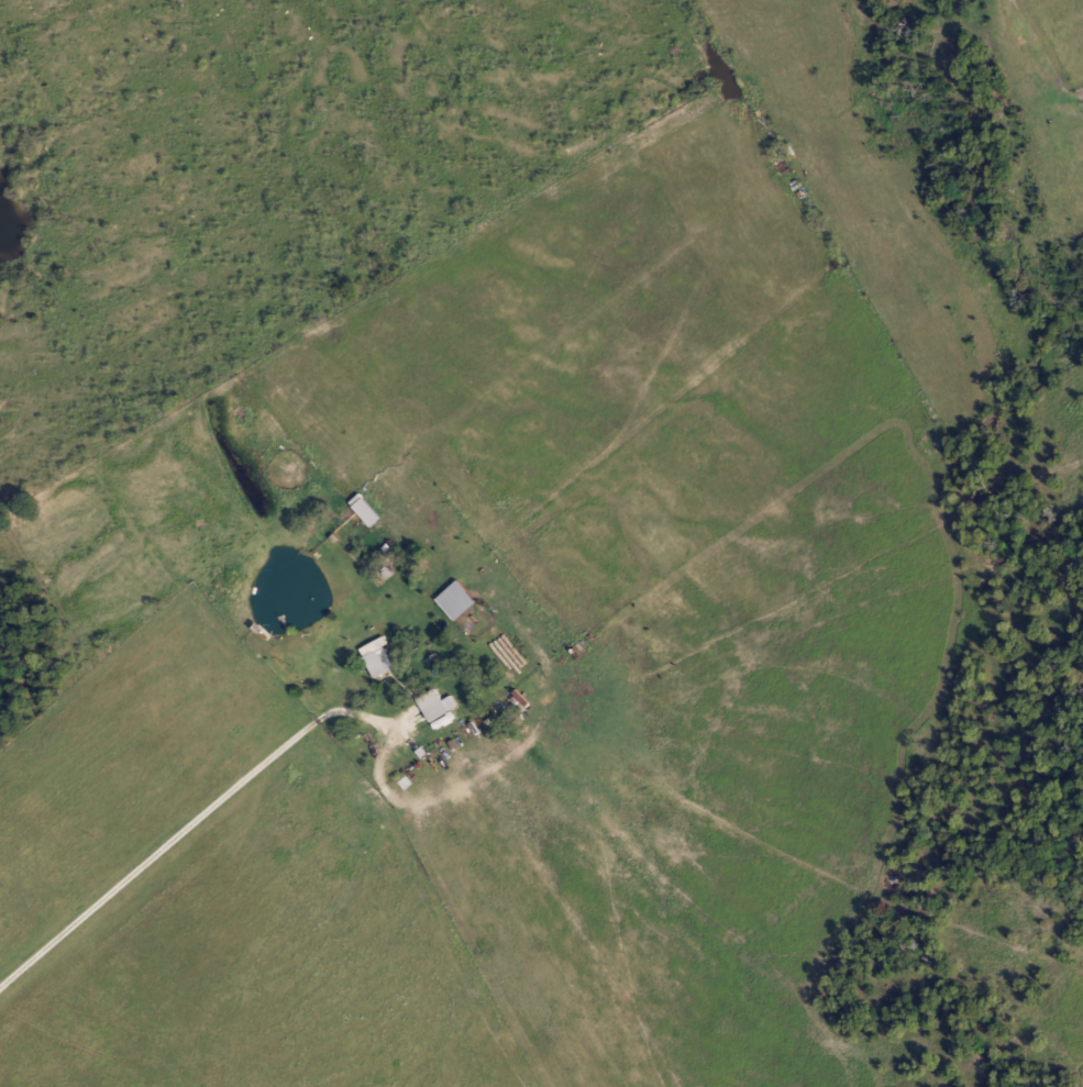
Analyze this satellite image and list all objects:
building: (462, 601)
building: (471, 621)

